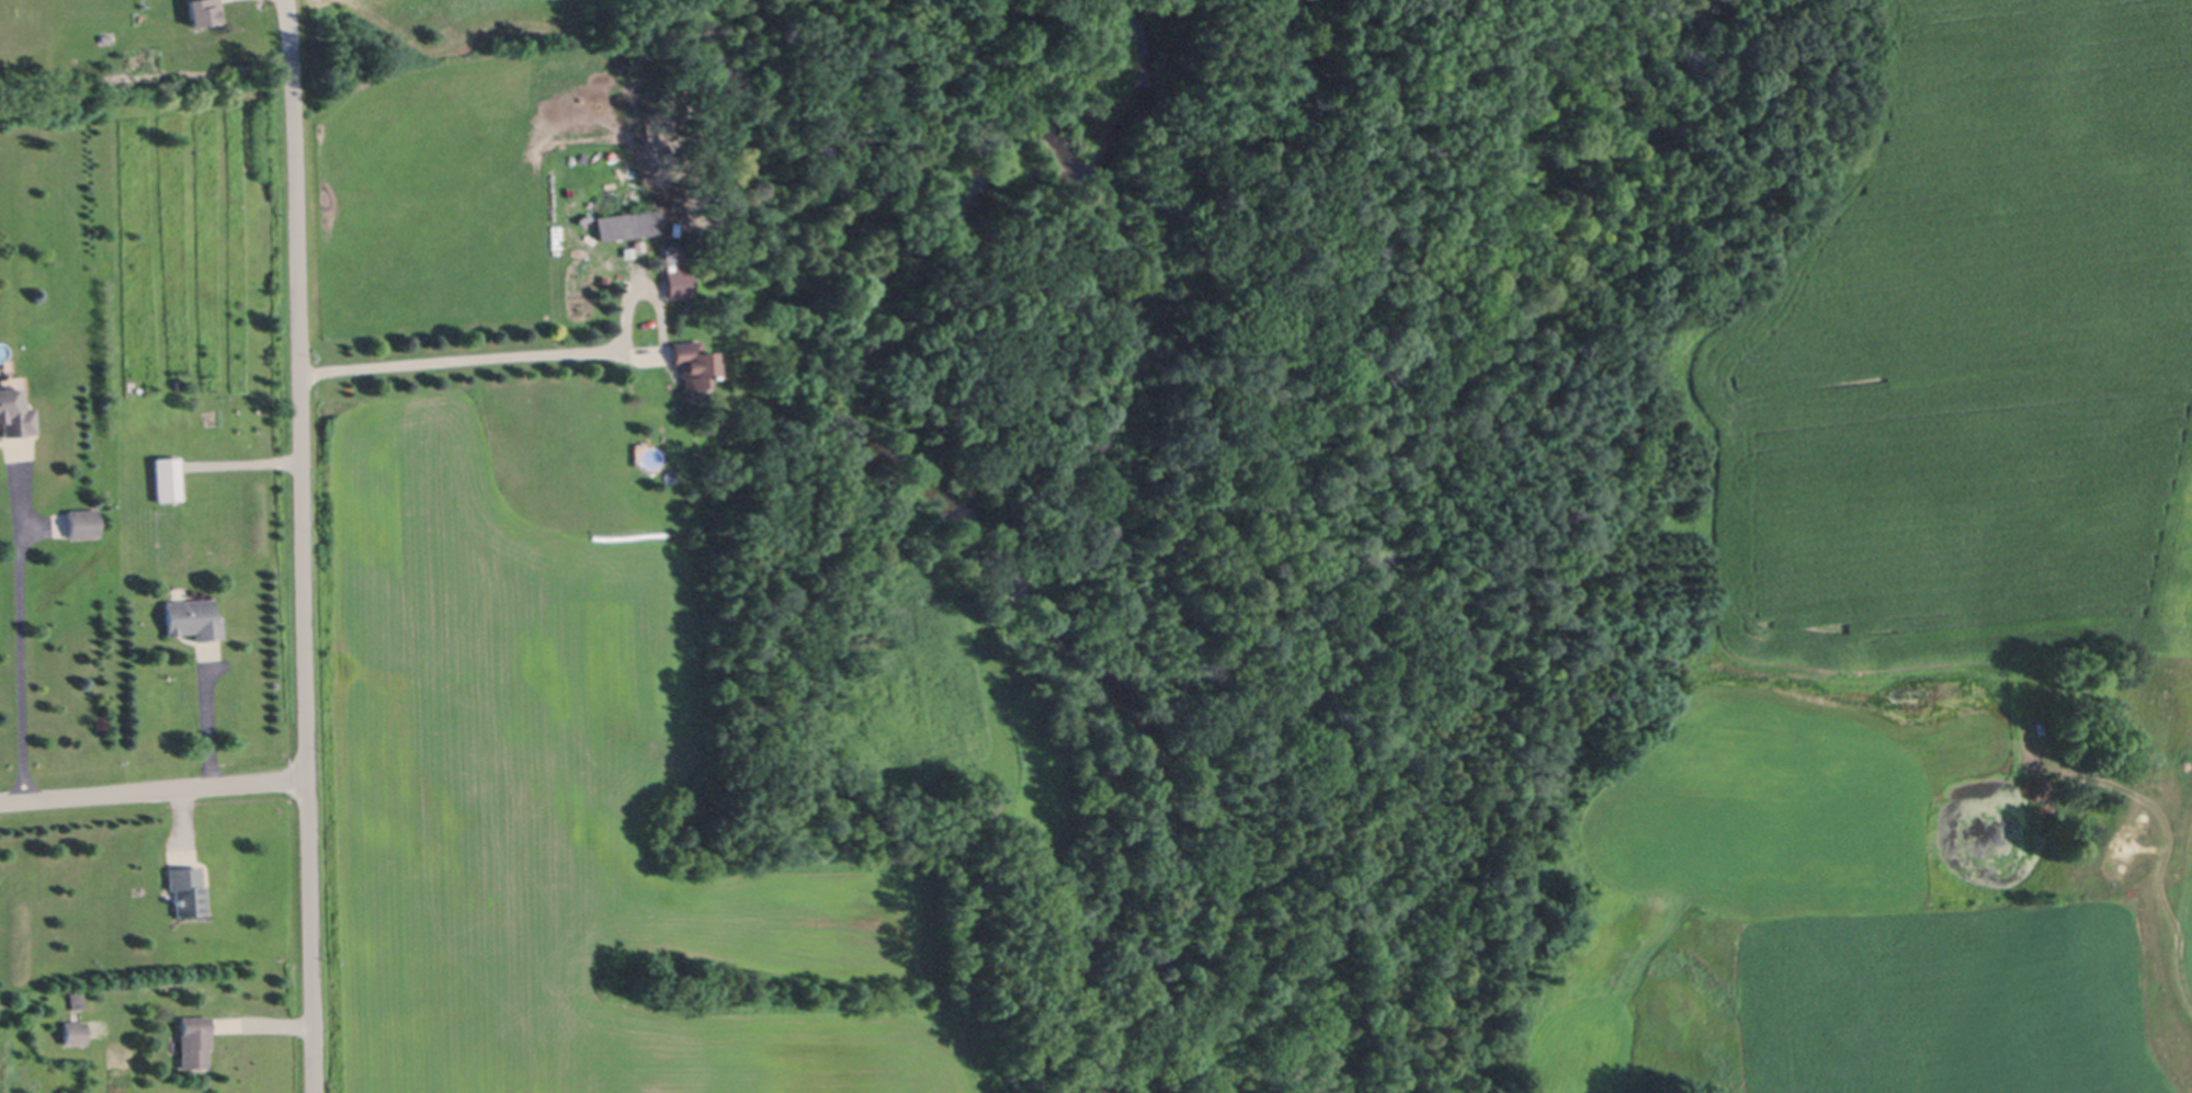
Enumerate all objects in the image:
building: (203, 12)
building: (626, 225)
building: (672, 257)
building: (604, 280)
building: (678, 283)
road: (458, 360)
building: (693, 365)
building: (15, 412)
building: (168, 476)
river: (965, 519)
building: (83, 522)
building: (1104, 538)
road: (302, 546)
building: (194, 618)
road: (20, 640)
road: (152, 787)
building: (189, 890)
building: (77, 1000)
building: (75, 1032)
building: (194, 1040)

